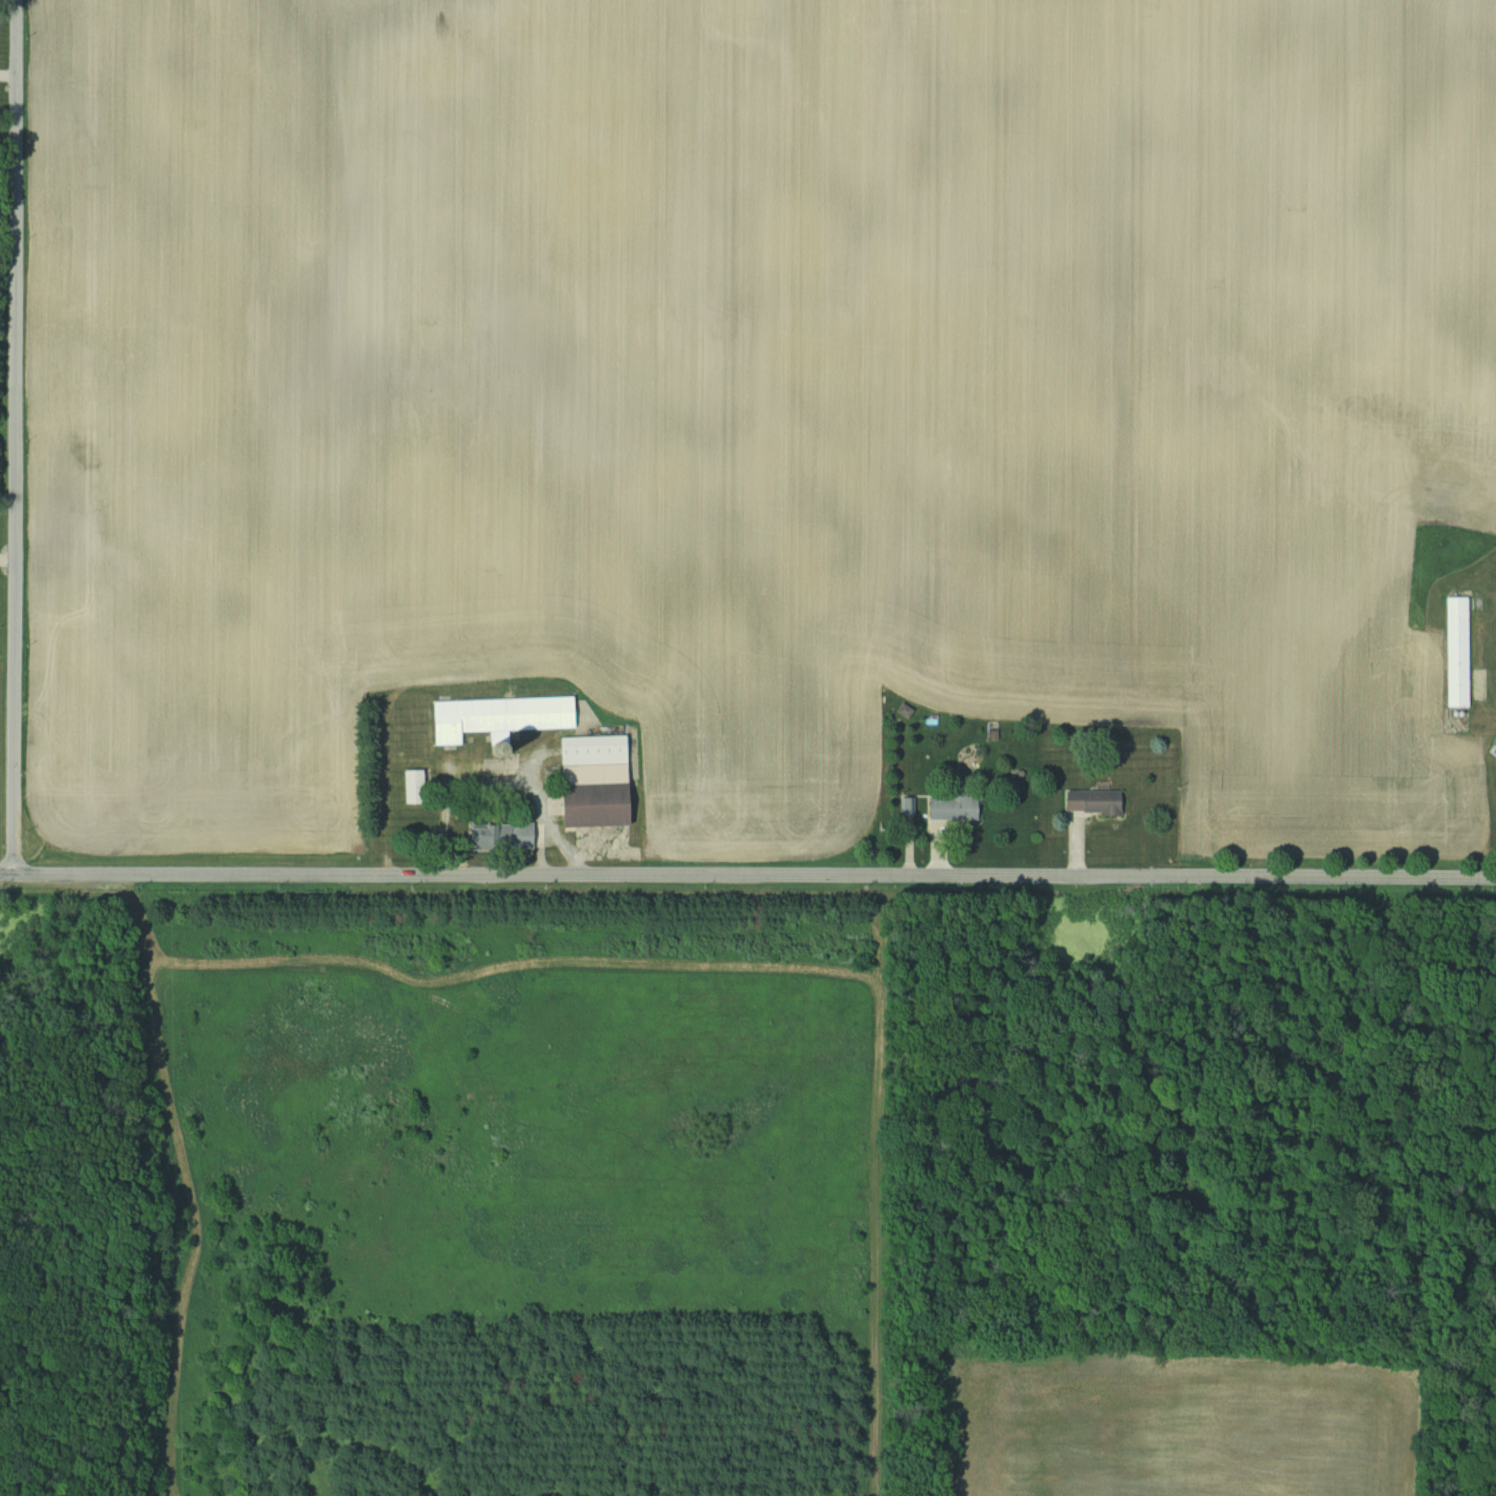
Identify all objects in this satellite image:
road: (15, 437)
building: (1458, 651)
building: (503, 715)
building: (599, 778)
building: (416, 786)
building: (1098, 801)
building: (955, 807)
building: (506, 835)
road: (748, 875)

